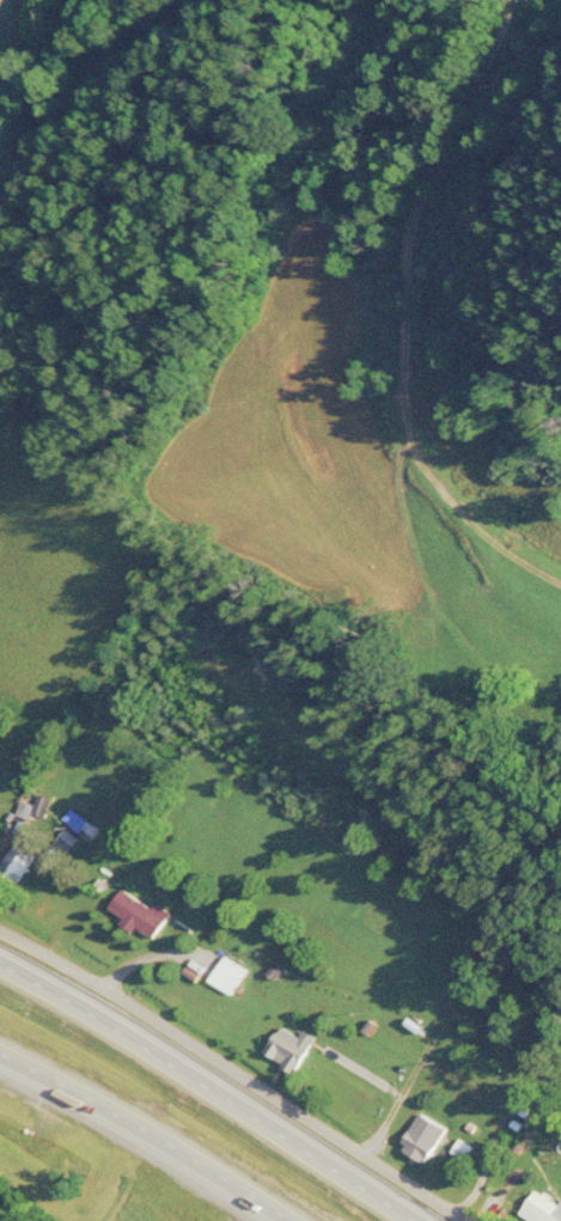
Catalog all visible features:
road: (127, 80)
building: (14, 862)
building: (136, 911)
building: (226, 972)
building: (289, 1044)
road: (237, 1069)
road: (214, 1085)
road: (154, 1128)
building: (421, 1134)
building: (541, 1207)

